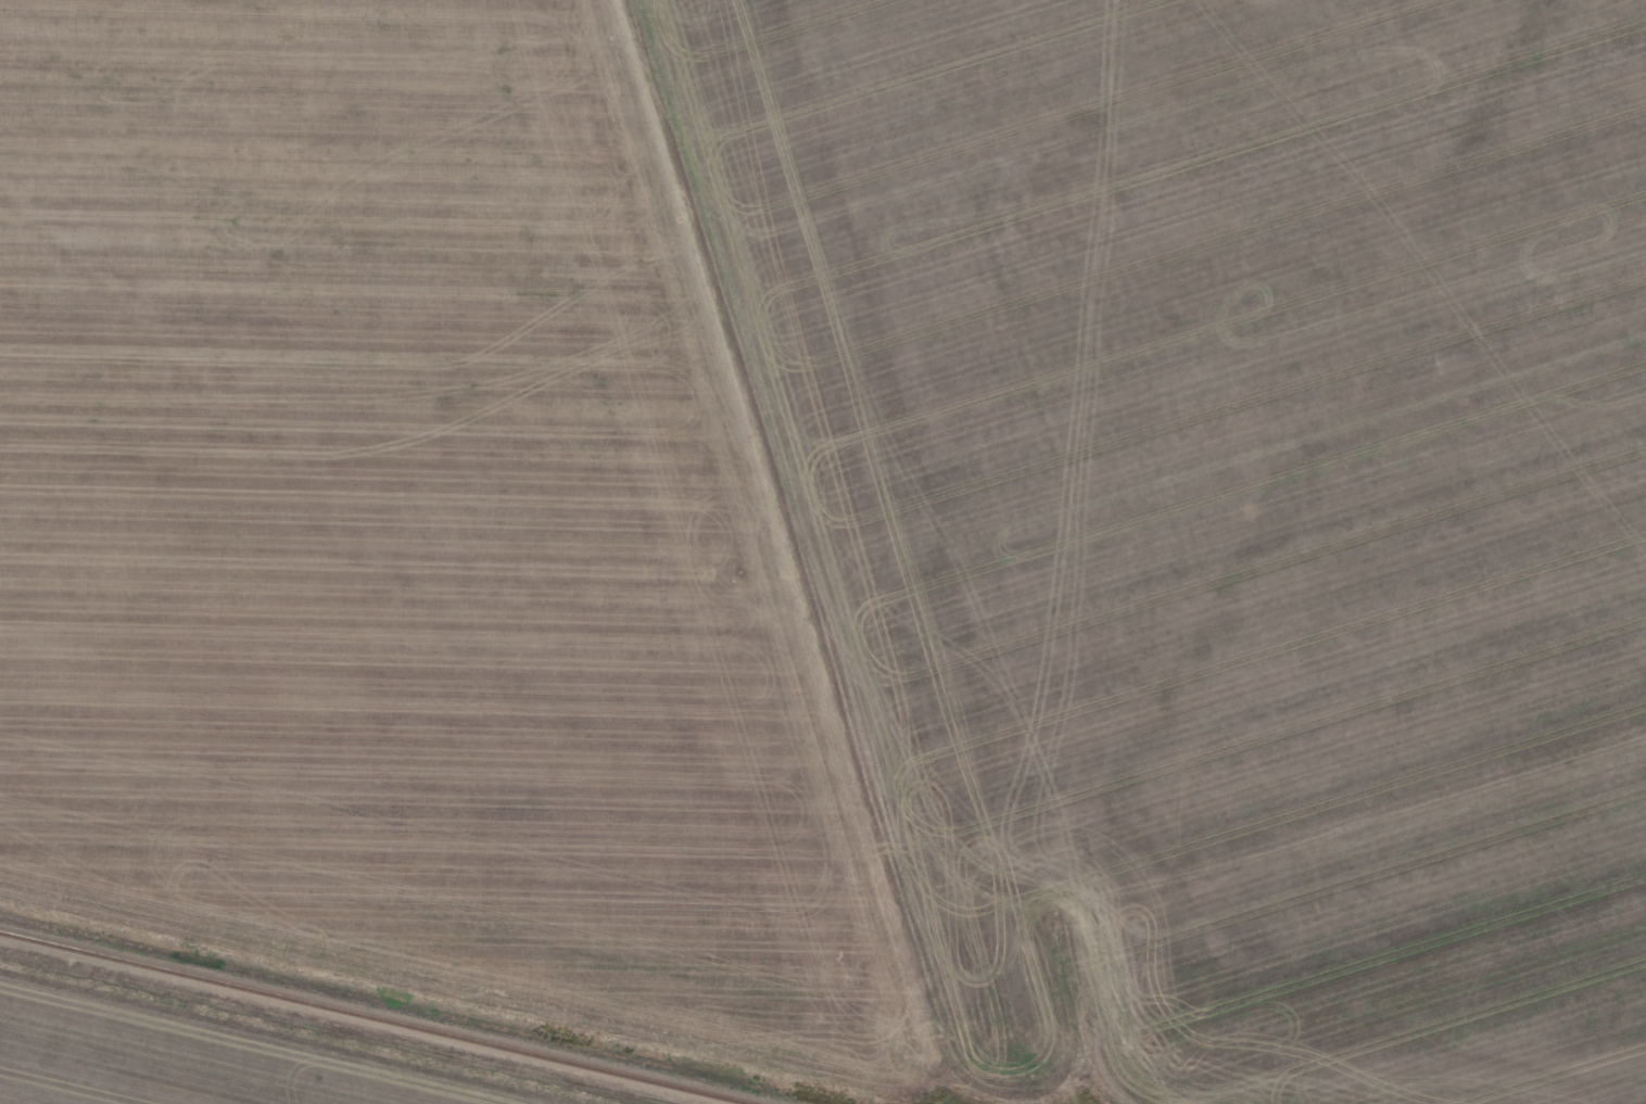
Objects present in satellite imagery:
railway: (378, 1018)

